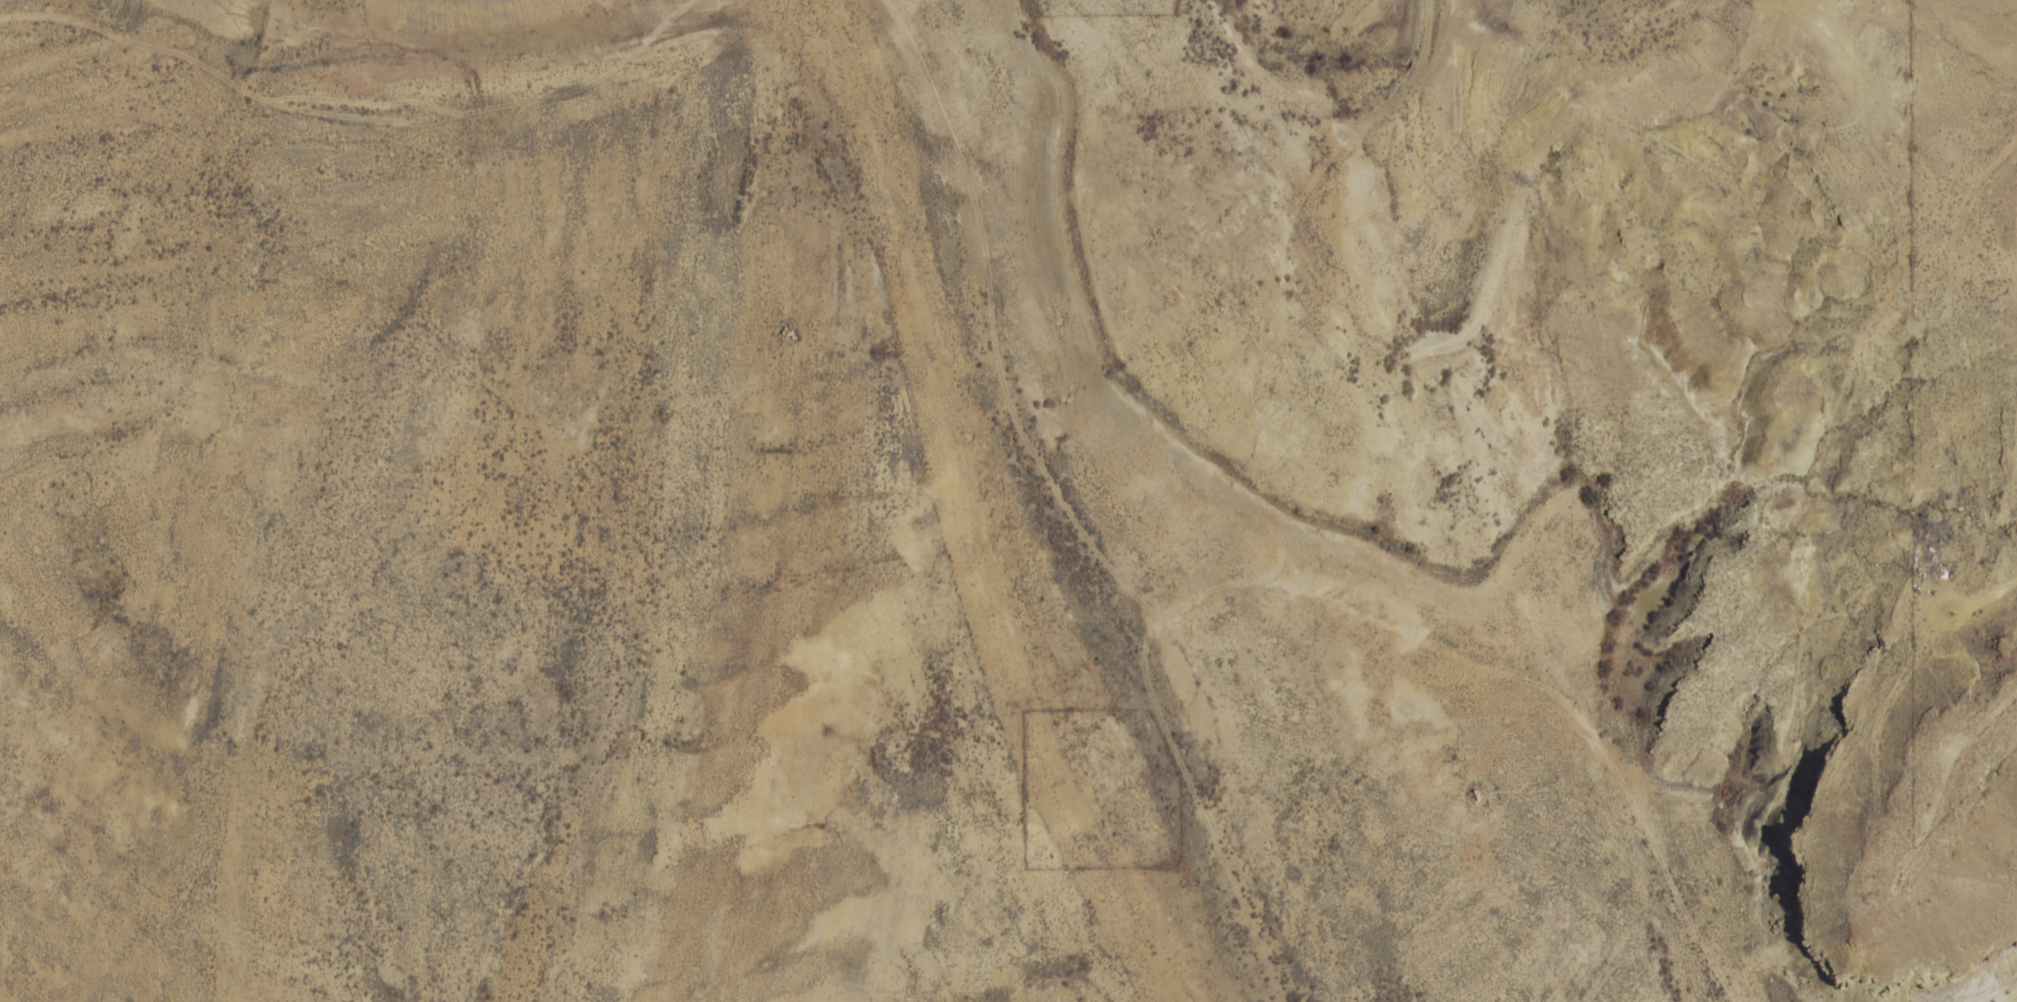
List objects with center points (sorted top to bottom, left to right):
road: (349, 118)
road: (1268, 337)
road: (1069, 507)

